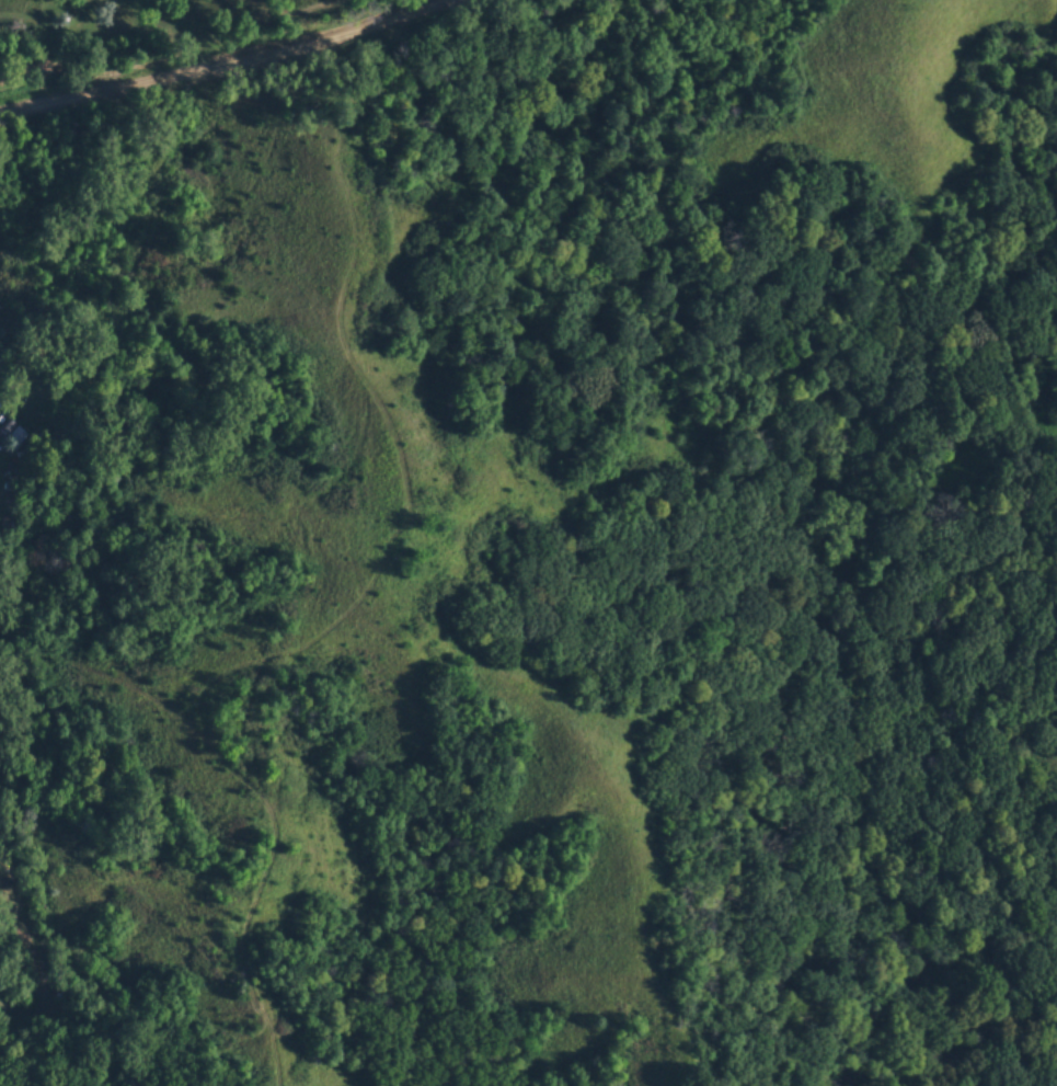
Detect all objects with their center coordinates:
road: (217, 65)
road: (608, 226)
park: (804, 572)
road: (970, 962)
road: (866, 1058)

